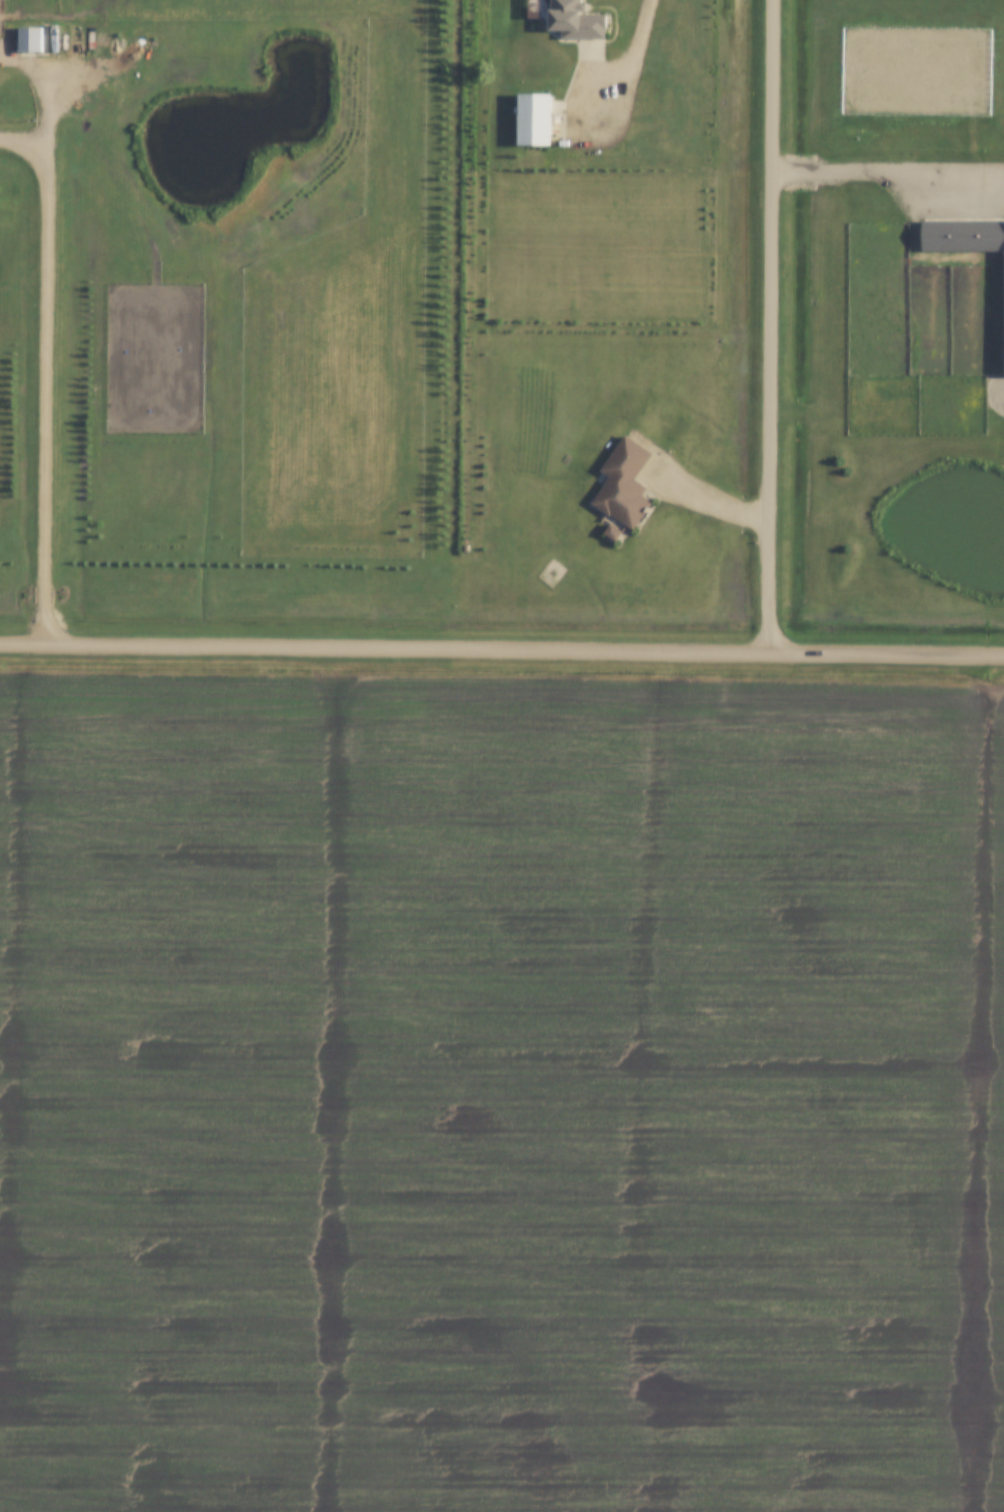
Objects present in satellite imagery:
building: (576, 21)
building: (30, 39)
road: (633, 67)
building: (535, 120)
road: (890, 170)
building: (963, 237)
road: (773, 324)
road: (46, 375)
building: (625, 484)
road: (711, 504)
building: (614, 533)
building: (466, 549)
road: (502, 646)

